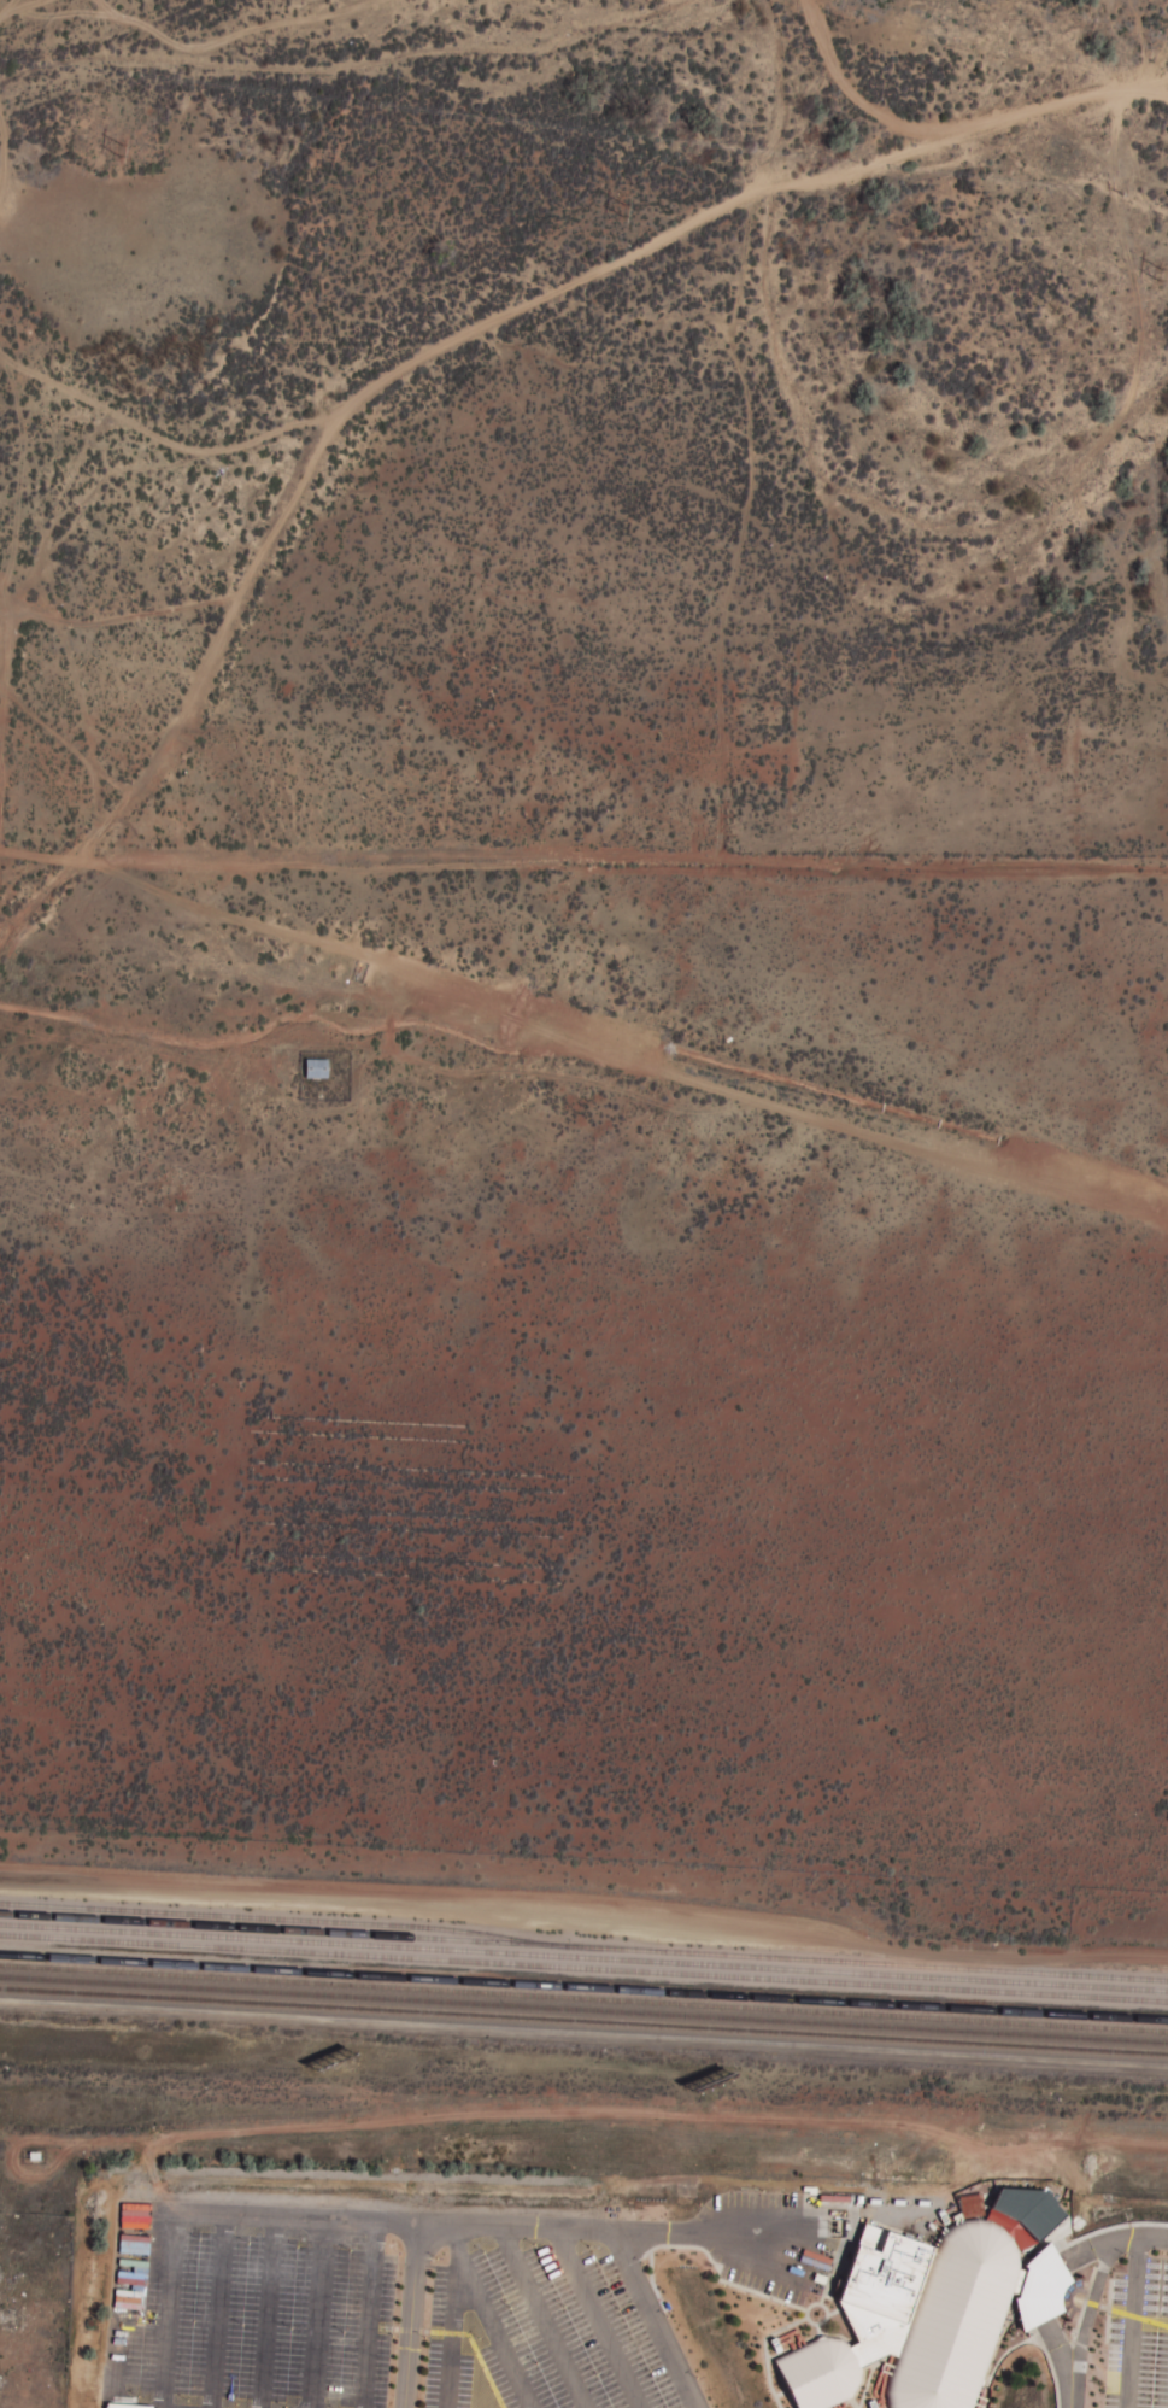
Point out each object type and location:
road: (6, 7)
river: (375, 57)
road: (953, 141)
power tower: (113, 152)
power tower: (627, 213)
power tower: (1160, 276)
road: (356, 399)
river: (809, 446)
road: (592, 1053)
building: (323, 1067)
railway: (277, 1917)
railway: (583, 1946)
railway: (583, 1955)
railway: (583, 1968)
railway: (583, 1987)
railway: (583, 1998)
railway: (583, 2009)
railway: (583, 2020)
road: (442, 2225)
road: (1045, 2278)
road: (118, 2308)
road: (166, 2309)
road: (216, 2310)
road: (264, 2312)
parking lot: (386, 2312)
road: (316, 2313)
road: (365, 2314)
road: (1086, 2314)
road: (409, 2315)
building: (926, 2315)
road: (487, 2318)
road: (544, 2318)
road: (598, 2319)
road: (656, 2320)
road: (1131, 2320)
road: (451, 2330)
parking lot: (1134, 2331)
road: (116, 2407)

